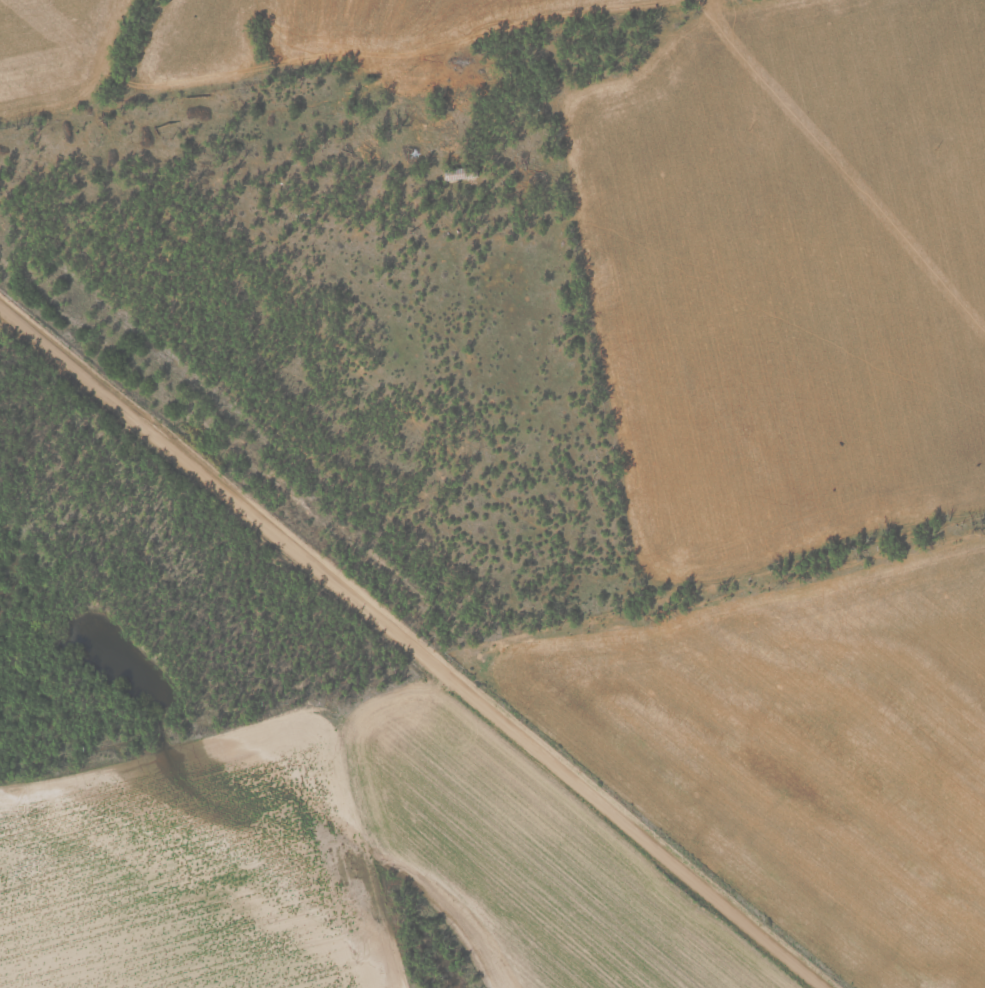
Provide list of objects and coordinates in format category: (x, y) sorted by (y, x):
railway: (441, 622)
road: (418, 647)

